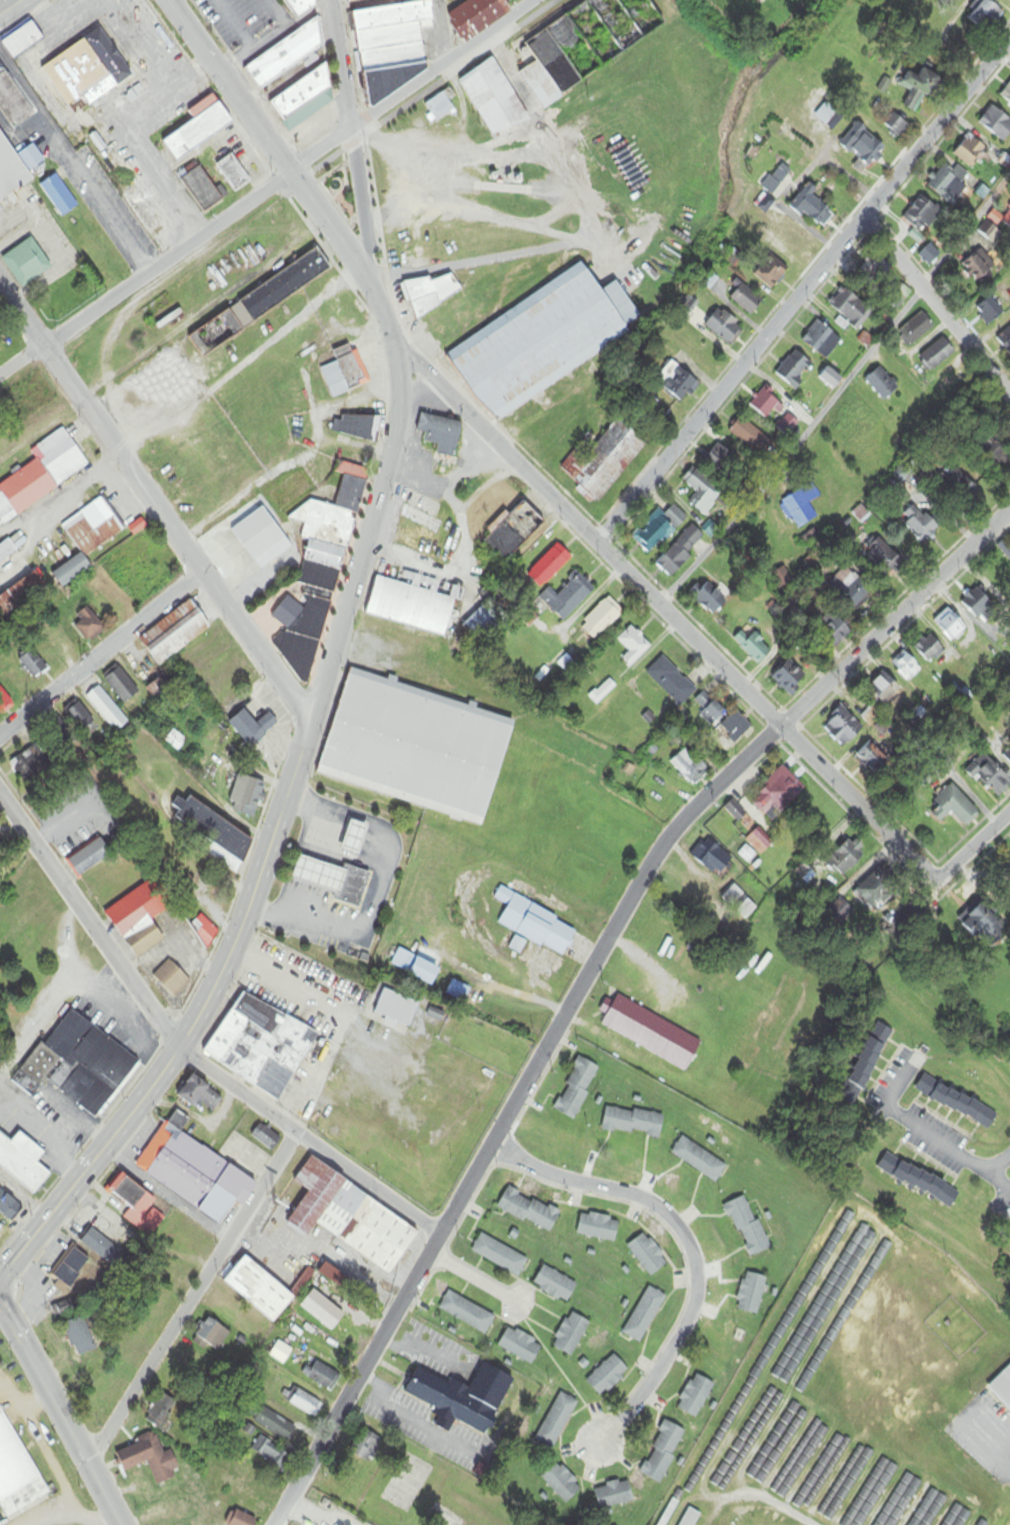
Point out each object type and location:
building: (353, 0)
road: (9, 6)
building: (301, 6)
building: (642, 9)
building: (987, 15)
building: (479, 16)
road: (438, 32)
building: (22, 41)
building: (396, 46)
building: (578, 46)
building: (286, 55)
road: (341, 72)
road: (454, 72)
building: (84, 74)
road: (229, 86)
road: (412, 86)
building: (920, 87)
building: (1006, 94)
building: (494, 99)
building: (304, 100)
building: (12, 101)
building: (440, 107)
building: (826, 114)
building: (996, 124)
building: (895, 126)
building: (199, 128)
building: (863, 148)
building: (970, 152)
road: (325, 164)
building: (16, 168)
building: (233, 173)
road: (294, 178)
building: (777, 178)
building: (949, 184)
building: (201, 189)
building: (58, 196)
building: (139, 207)
building: (812, 207)
road: (361, 214)
road: (112, 215)
building: (920, 218)
building: (1006, 219)
road: (335, 233)
building: (794, 238)
building: (930, 254)
road: (524, 255)
road: (169, 259)
building: (26, 263)
building: (979, 267)
building: (875, 270)
building: (771, 271)
building: (285, 285)
road: (804, 289)
building: (432, 293)
building: (745, 299)
building: (850, 307)
road: (936, 307)
road: (22, 311)
building: (990, 311)
railway: (103, 318)
road: (385, 319)
building: (724, 327)
building: (916, 328)
building: (216, 333)
building: (822, 340)
building: (1005, 341)
building: (539, 343)
building: (936, 355)
road: (22, 359)
building: (794, 369)
building: (344, 372)
building: (830, 378)
building: (677, 381)
building: (882, 384)
road: (833, 388)
building: (763, 403)
building: (33, 404)
building: (787, 425)
building: (359, 427)
building: (440, 434)
building: (750, 437)
building: (996, 453)
building: (606, 458)
building: (717, 458)
building: (43, 472)
building: (959, 485)
building: (290, 490)
building: (702, 491)
building: (801, 507)
building: (919, 523)
building: (659, 529)
building: (514, 532)
road: (175, 534)
building: (424, 536)
building: (87, 538)
building: (262, 539)
road: (366, 540)
building: (6, 551)
building: (680, 552)
building: (884, 557)
building: (550, 566)
building: (319, 573)
building: (782, 579)
building: (851, 589)
building: (20, 596)
building: (569, 598)
building: (709, 599)
building: (978, 602)
building: (414, 603)
building: (485, 618)
building: (601, 620)
road: (678, 624)
building: (88, 626)
building: (951, 626)
building: (830, 632)
building: (174, 633)
building: (633, 647)
building: (754, 648)
building: (929, 649)
road: (100, 652)
building: (32, 665)
building: (907, 668)
building: (790, 679)
building: (671, 682)
building: (121, 687)
building: (885, 689)
building: (157, 690)
building: (602, 693)
building: (709, 709)
building: (107, 710)
building: (870, 718)
building: (79, 719)
building: (252, 728)
building: (736, 728)
building: (843, 728)
building: (60, 735)
building: (176, 742)
building: (417, 747)
building: (1009, 757)
building: (873, 758)
building: (28, 763)
building: (689, 766)
building: (990, 776)
building: (777, 795)
building: (246, 796)
building: (954, 808)
building: (735, 813)
road: (983, 834)
building: (215, 836)
building: (349, 837)
building: (760, 842)
building: (1, 848)
building: (89, 858)
building: (712, 858)
building: (847, 859)
building: (7, 870)
building: (314, 874)
building: (347, 885)
building: (875, 892)
building: (733, 896)
building: (747, 910)
building: (839, 914)
building: (139, 920)
building: (536, 925)
building: (987, 925)
building: (204, 932)
building: (402, 961)
building: (425, 973)
road: (585, 973)
building: (172, 980)
road: (58, 990)
building: (458, 992)
building: (397, 1009)
building: (981, 1018)
road: (194, 1019)
building: (650, 1033)
building: (261, 1046)
road: (183, 1047)
building: (866, 1065)
building: (79, 1066)
building: (576, 1089)
building: (199, 1095)
building: (956, 1103)
building: (633, 1123)
building: (266, 1138)
road: (950, 1146)
building: (699, 1160)
building: (22, 1162)
building: (195, 1171)
building: (918, 1181)
building: (138, 1205)
building: (8, 1207)
building: (529, 1209)
building: (352, 1218)
building: (748, 1226)
building: (598, 1227)
road: (687, 1244)
building: (102, 1248)
building: (854, 1251)
building: (500, 1255)
building: (648, 1255)
building: (873, 1267)
building: (70, 1270)
building: (174, 1277)
road: (472, 1277)
building: (555, 1284)
building: (260, 1289)
building: (751, 1293)
building: (163, 1296)
road: (195, 1302)
building: (66, 1307)
building: (153, 1312)
building: (467, 1313)
building: (645, 1315)
building: (141, 1330)
building: (571, 1334)
building: (80, 1336)
building: (212, 1336)
building: (520, 1346)
building: (124, 1350)
building: (196, 1362)
building: (321, 1375)
building: (607, 1375)
building: (1002, 1387)
building: (100, 1393)
building: (696, 1395)
building: (463, 1398)
building: (304, 1402)
building: (162, 1412)
road: (59, 1416)
building: (557, 1420)
building: (274, 1424)
road: (988, 1439)
building: (365, 1445)
building: (665, 1449)
road: (43, 1451)
building: (271, 1453)
building: (150, 1458)
building: (14, 1475)
building: (561, 1482)
building: (904, 1493)
building: (613, 1494)
building: (929, 1509)
building: (956, 1516)
building: (690, 1517)
road: (81, 1518)
building: (237, 1518)
building: (980, 1523)

